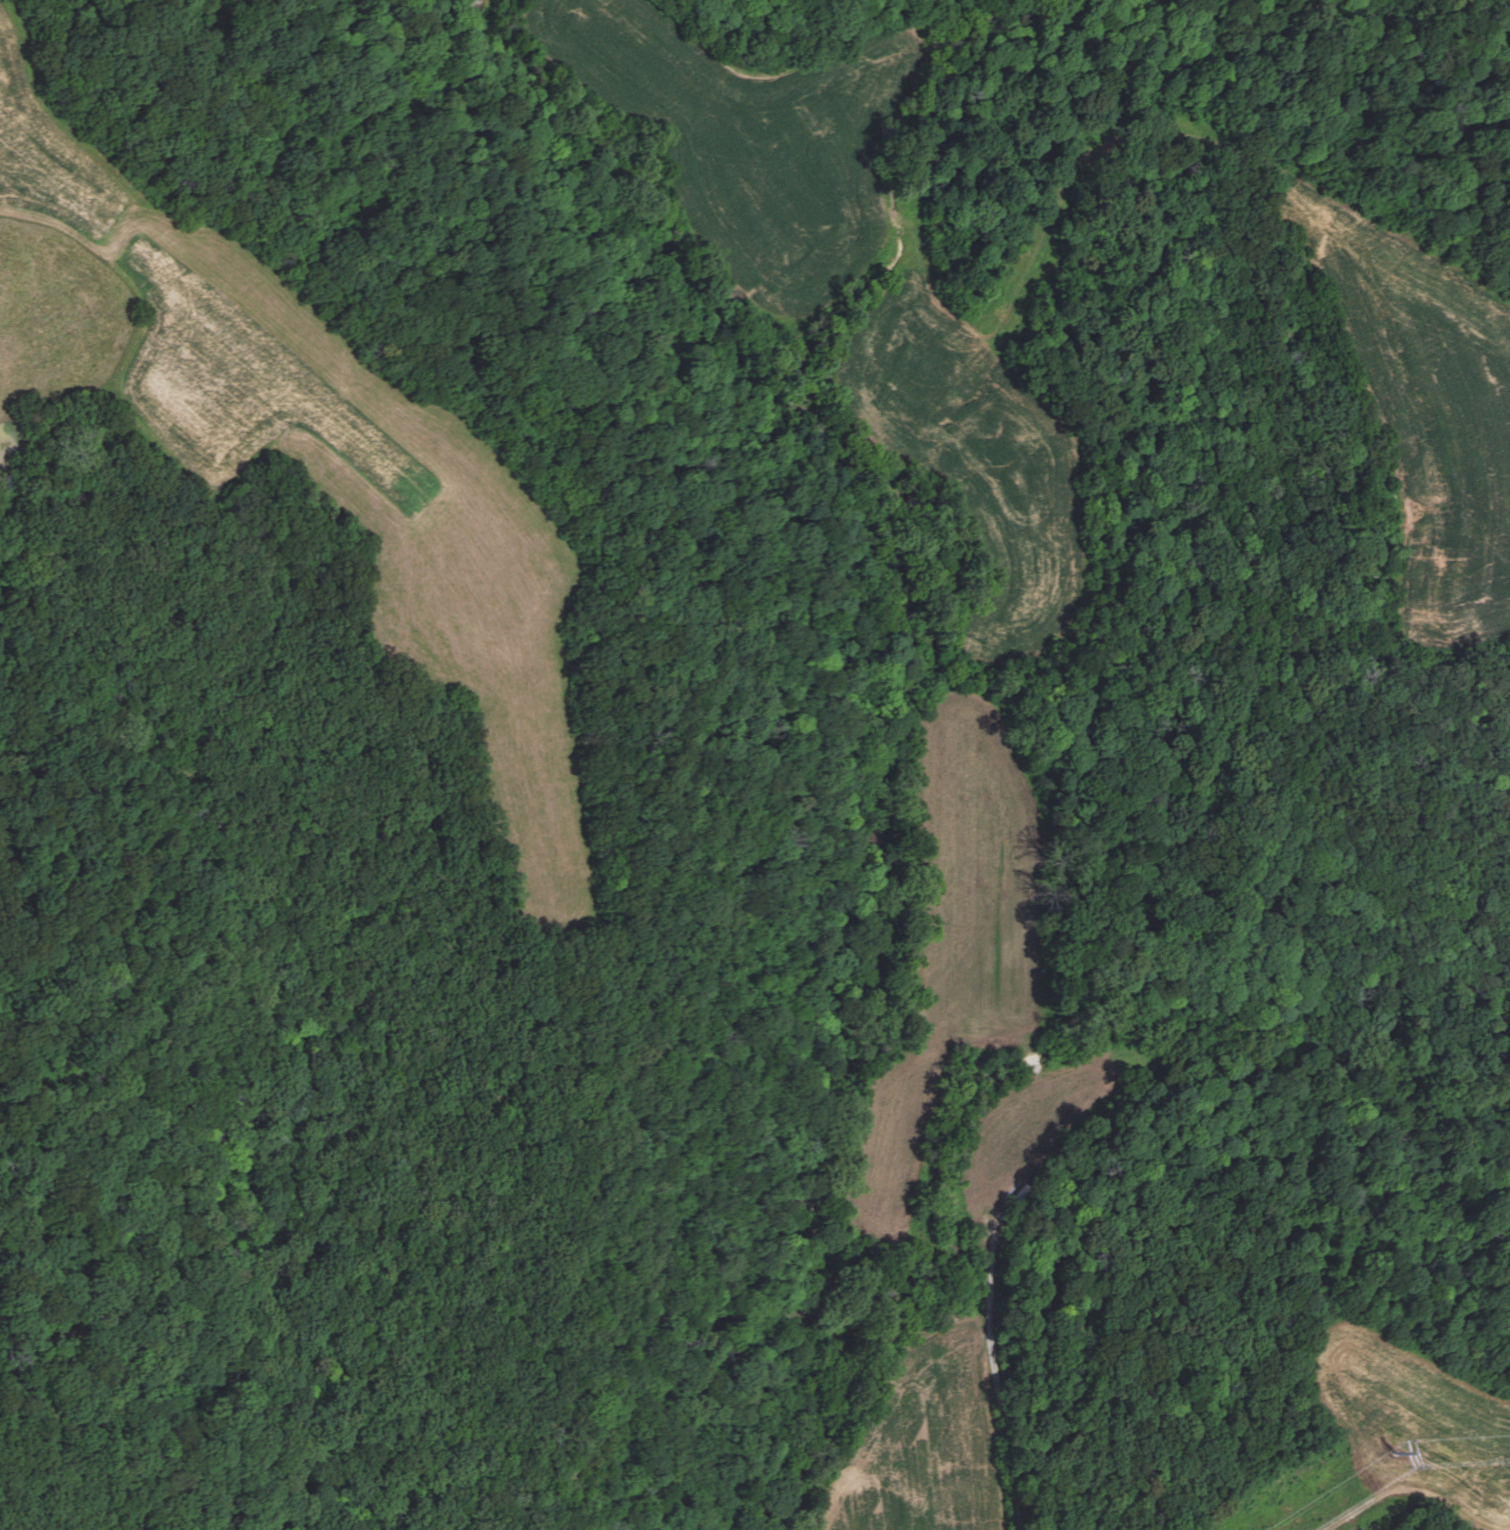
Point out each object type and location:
power tower: (1398, 1453)

